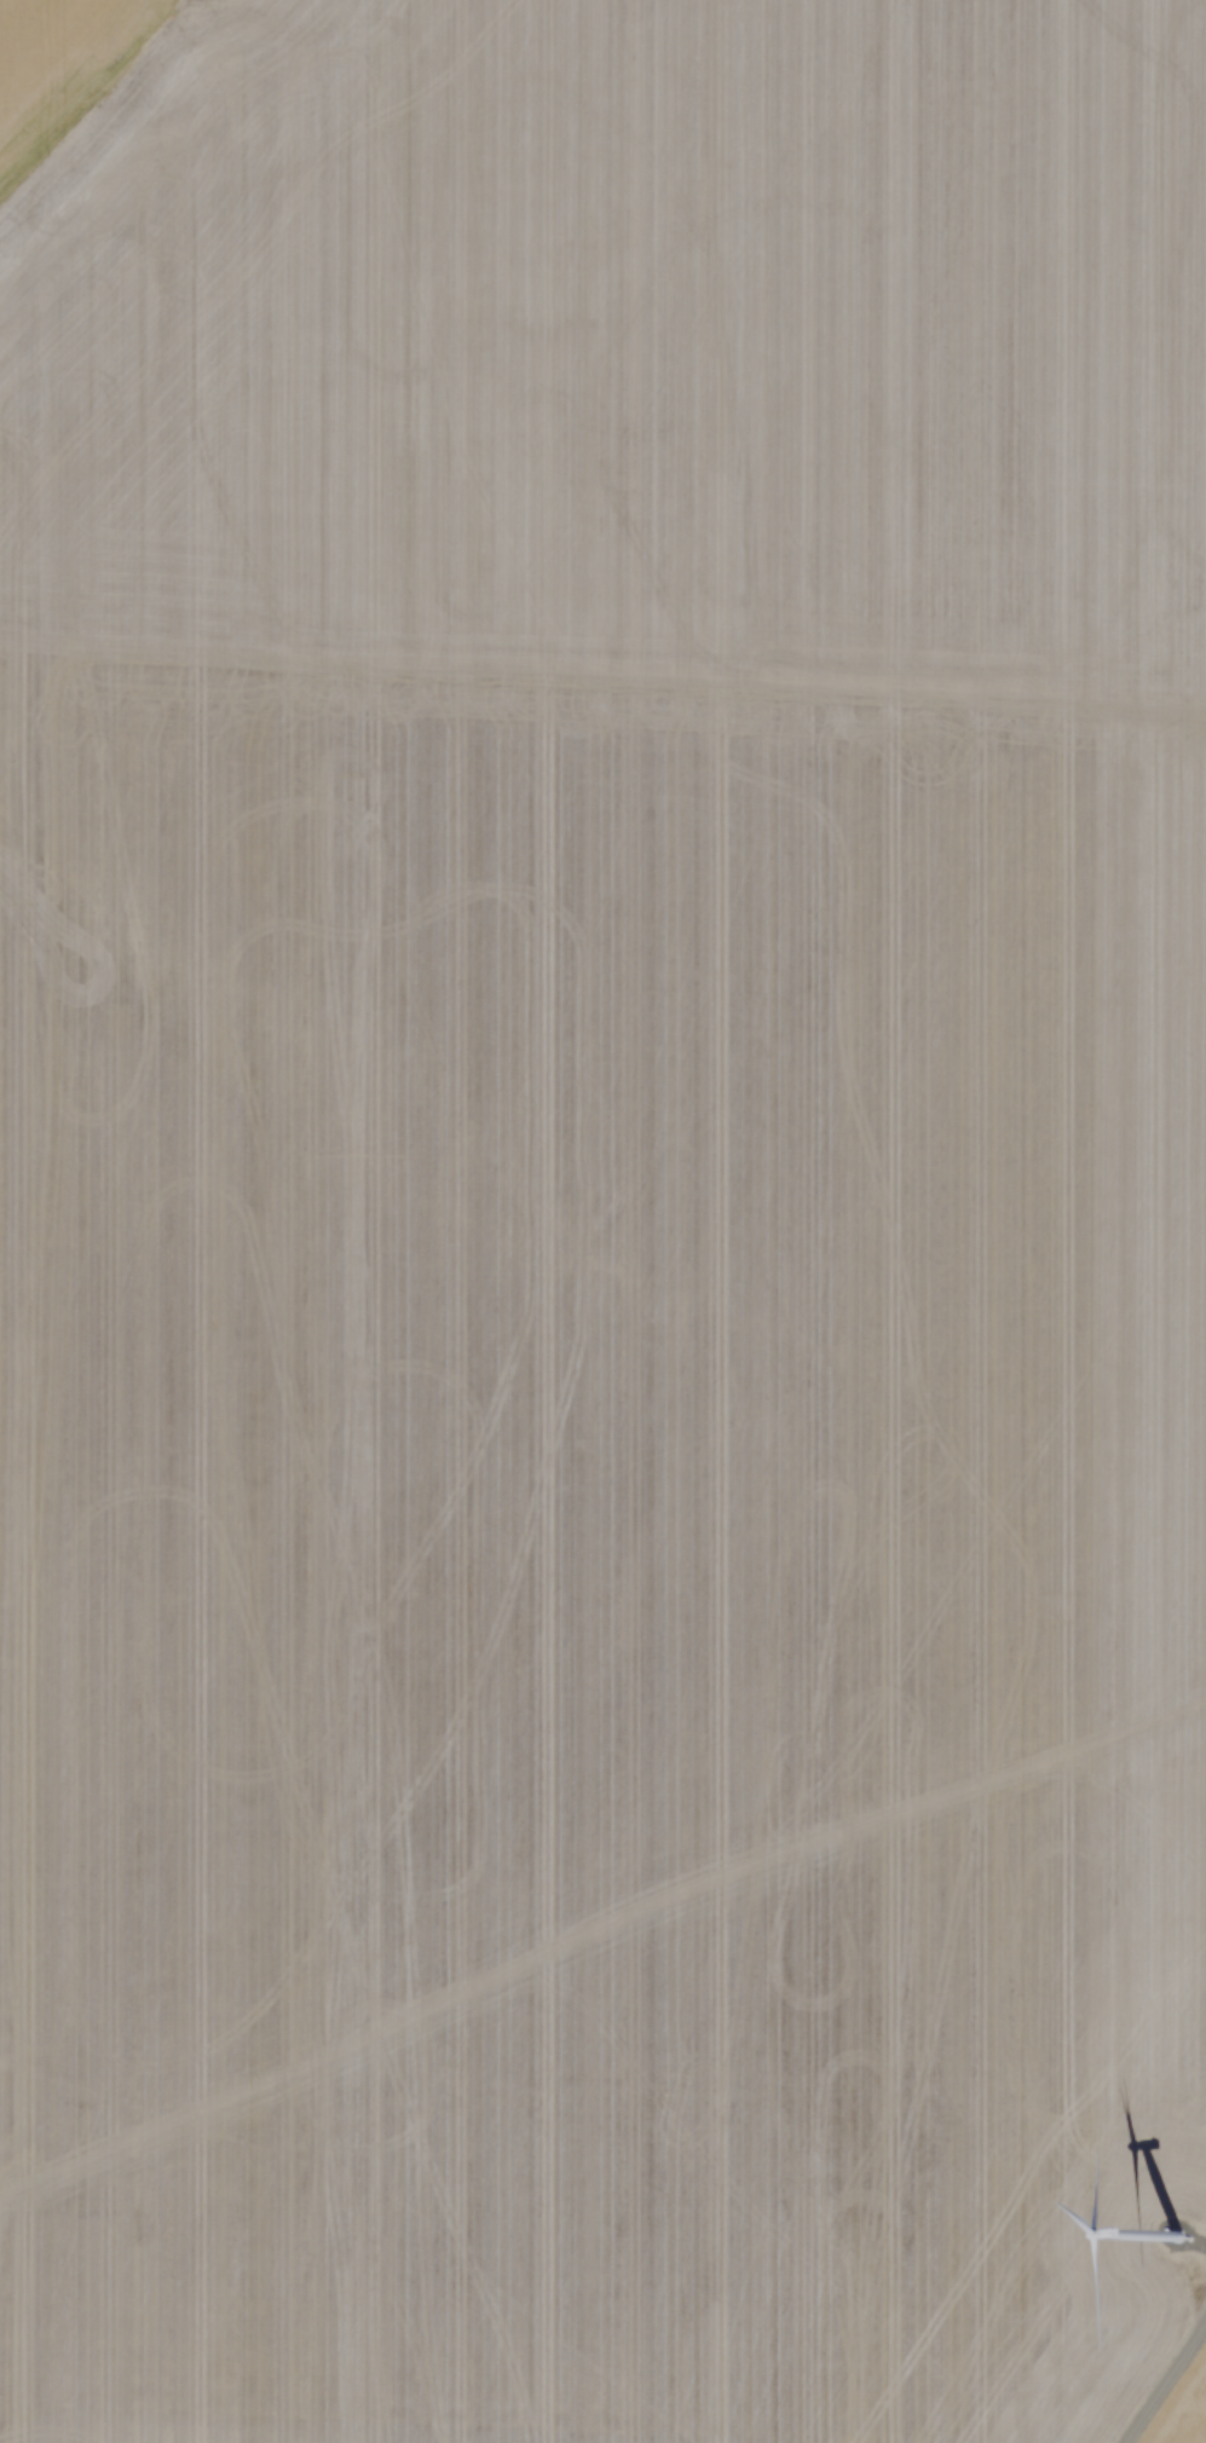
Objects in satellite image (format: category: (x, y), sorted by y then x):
wind turbine: (1137, 2245)
road: (1158, 2370)

